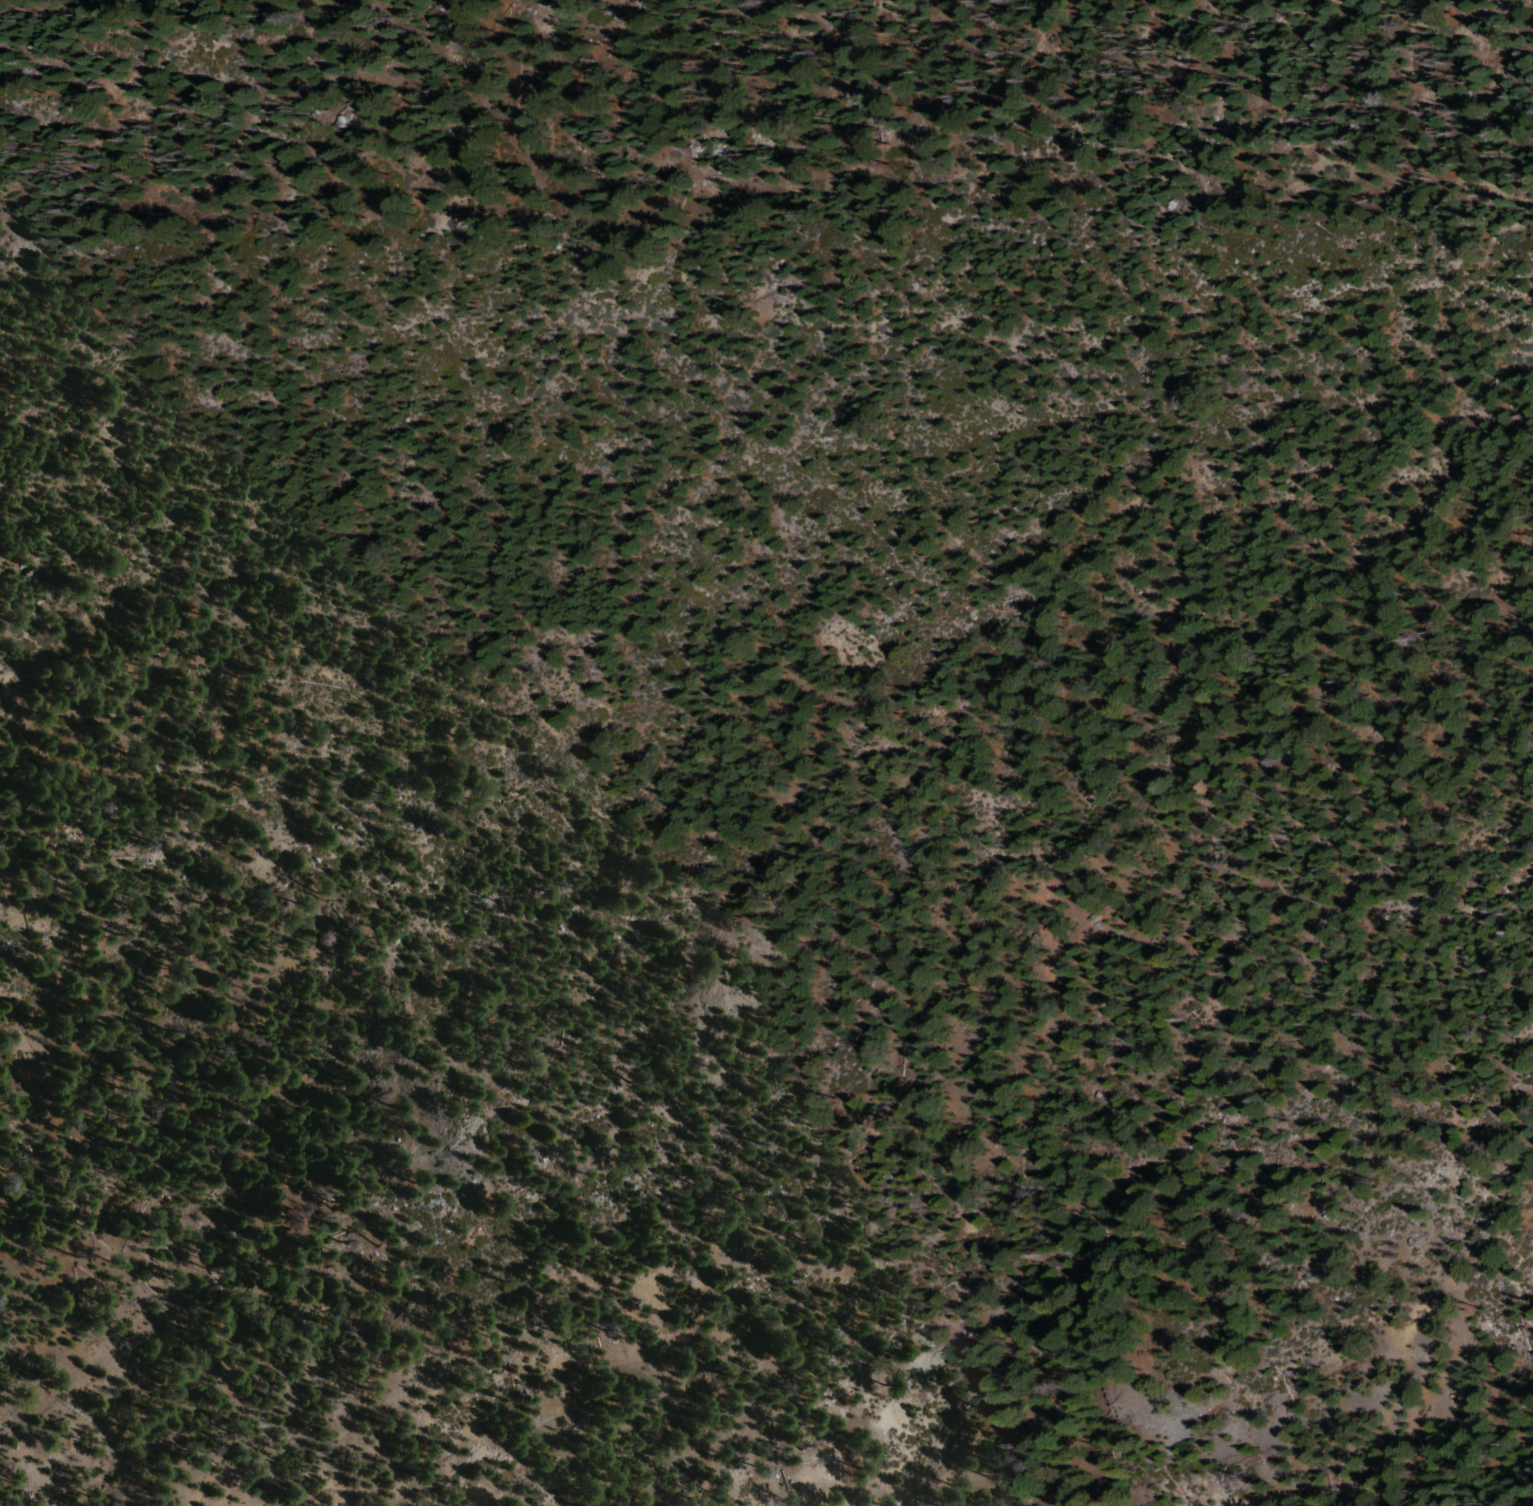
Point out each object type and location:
road: (1372, 122)

